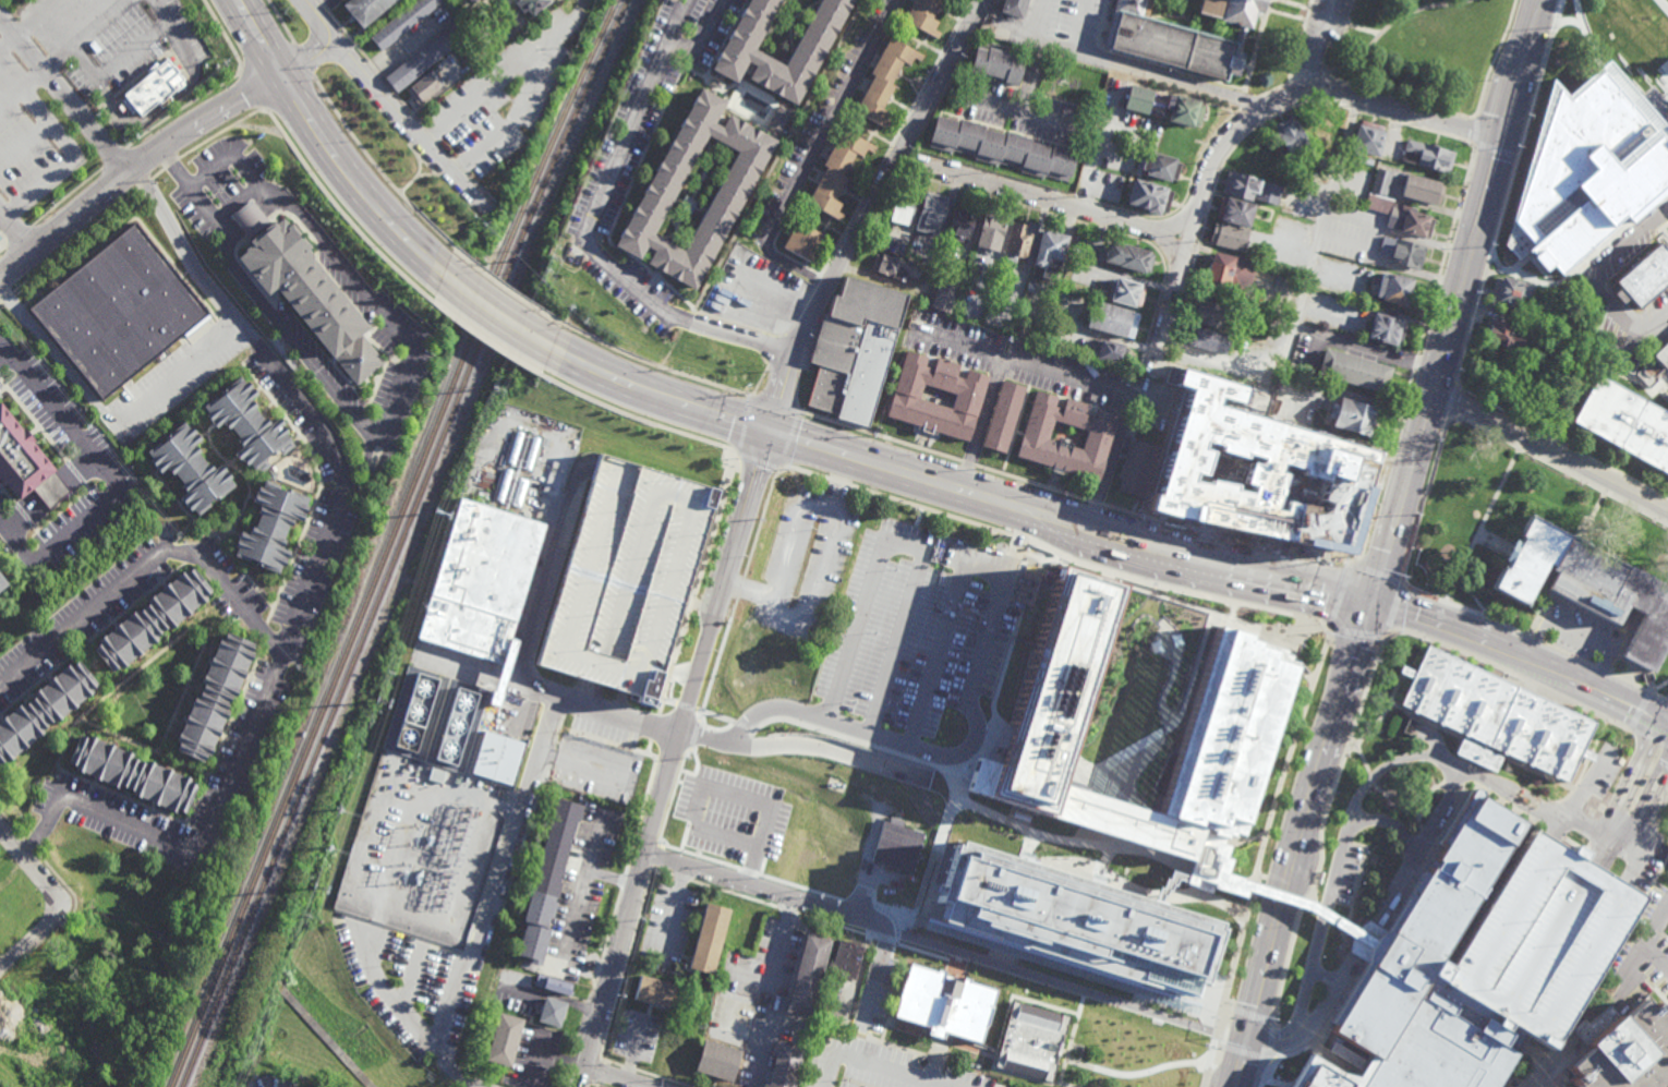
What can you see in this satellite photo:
building: (503, 0)
building: (471, 1)
road: (1095, 3)
road: (1665, 3)
road: (1293, 4)
building: (531, 7)
road: (1183, 8)
road: (592, 9)
building: (1013, 9)
building: (1232, 10)
road: (1316, 10)
building: (364, 11)
road: (1307, 14)
building: (924, 15)
road: (1285, 15)
road: (684, 17)
road: (1035, 20)
road: (280, 22)
building: (404, 22)
road: (1313, 22)
road: (1205, 23)
road: (29, 25)
road: (1077, 26)
road: (1389, 26)
road: (174, 32)
road: (222, 33)
building: (505, 35)
road: (706, 35)
building: (1172, 43)
road: (1256, 46)
road: (1313, 46)
road: (132, 52)
road: (1643, 52)
road: (1612, 53)
road: (67, 55)
building: (425, 55)
building: (473, 55)
building: (739, 56)
road: (1494, 59)
road: (303, 61)
building: (996, 62)
road: (1148, 63)
road: (1131, 69)
road: (88, 74)
road: (1304, 77)
parking lot: (71, 78)
building: (885, 78)
road: (1032, 81)
building: (424, 84)
road: (493, 84)
building: (152, 88)
road: (255, 89)
road: (1273, 89)
road: (64, 90)
parking lot: (508, 96)
road: (1397, 98)
building: (1137, 99)
road: (1241, 101)
road: (1249, 102)
road: (396, 106)
road: (185, 109)
building: (121, 110)
building: (1184, 110)
road: (1356, 110)
road: (156, 112)
road: (1017, 116)
building: (778, 119)
road: (516, 120)
road: (1245, 122)
road: (49, 123)
road: (1419, 129)
road: (1473, 130)
road: (222, 132)
building: (1326, 132)
building: (1292, 137)
road: (895, 138)
traffic signals: (1501, 140)
road: (1095, 143)
building: (1370, 144)
road: (25, 145)
road: (160, 147)
road: (328, 147)
parking lot: (412, 147)
building: (1001, 148)
road: (1495, 152)
building: (1430, 155)
road: (807, 157)
road: (111, 158)
road: (170, 165)
building: (1160, 166)
road: (930, 168)
road: (375, 170)
building: (836, 172)
building: (1593, 173)
road: (157, 174)
road: (1532, 174)
road: (996, 176)
building: (1380, 181)
road: (145, 184)
road: (40, 188)
building: (1252, 189)
building: (1422, 189)
building: (728, 192)
road: (1508, 192)
road: (1486, 193)
building: (1148, 196)
road: (1186, 196)
road: (65, 197)
road: (1084, 198)
road: (1211, 201)
road: (235, 202)
road: (1060, 202)
building: (901, 210)
road: (868, 212)
building: (1235, 212)
building: (931, 213)
road: (343, 214)
building: (1403, 217)
road: (1667, 222)
building: (960, 226)
road: (1095, 227)
road: (1623, 230)
road: (15, 232)
building: (990, 232)
road: (1167, 232)
road: (1399, 232)
road: (21, 233)
road: (4, 234)
building: (0, 235)
building: (1229, 235)
building: (803, 237)
building: (0, 239)
building: (1019, 239)
road: (76, 240)
road: (4, 244)
road: (1666, 244)
road: (590, 246)
road: (1317, 250)
building: (1401, 251)
road: (1666, 251)
building: (1049, 253)
power tower: (549, 257)
building: (1127, 257)
road: (1388, 264)
building: (894, 267)
building: (1228, 273)
building: (1642, 277)
road: (1595, 280)
road: (817, 281)
road: (505, 288)
building: (1398, 290)
building: (1508, 291)
building: (306, 292)
building: (1124, 292)
building: (943, 295)
road: (7, 297)
road: (801, 312)
building: (119, 313)
road: (494, 314)
building: (1210, 314)
building: (1112, 319)
building: (1386, 329)
building: (1501, 333)
building: (1207, 339)
road: (485, 341)
road: (1629, 345)
road: (776, 349)
building: (854, 350)
road: (1366, 350)
building: (1109, 351)
road: (5, 354)
road: (1417, 357)
road: (1509, 357)
road: (58, 358)
road: (1224, 360)
building: (1653, 364)
road: (653, 365)
road: (1037, 369)
building: (1356, 374)
road: (177, 377)
road: (759, 379)
building: (1658, 386)
power tower: (493, 390)
road: (1581, 392)
road: (1353, 396)
road: (1546, 396)
building: (938, 399)
road: (1449, 399)
road: (774, 402)
road: (390, 408)
road: (637, 418)
building: (1357, 419)
building: (1005, 420)
road: (1019, 421)
building: (1624, 422)
road: (742, 423)
road: (981, 423)
building: (246, 425)
traffic signals: (771, 431)
road: (880, 435)
road: (790, 438)
building: (1068, 438)
road: (922, 439)
road: (1560, 442)
road: (1536, 444)
road: (1549, 449)
road: (760, 459)
building: (1252, 461)
road: (1108, 462)
building: (26, 463)
road: (970, 463)
building: (1136, 468)
building: (188, 470)
road: (1557, 470)
road: (805, 473)
building: (271, 475)
road: (1504, 475)
road: (117, 481)
road: (1055, 481)
road: (835, 483)
road: (837, 483)
road: (1034, 483)
road: (956, 487)
road: (1403, 492)
road: (1422, 498)
road: (1096, 504)
road: (1488, 508)
road: (954, 519)
building: (269, 528)
road: (1484, 538)
road: (1226, 539)
railway: (390, 541)
railway: (400, 541)
railway: (412, 541)
road: (904, 543)
road: (831, 551)
road: (704, 558)
road: (1083, 559)
road: (1461, 561)
parking lot: (809, 564)
road: (143, 567)
road: (1375, 573)
road: (959, 578)
building: (630, 580)
parking lot: (630, 580)
building: (2, 584)
building: (476, 587)
road: (741, 587)
building: (1588, 588)
road: (1467, 589)
road: (301, 594)
traffic signals: (1376, 595)
road: (1339, 597)
road: (1213, 601)
road: (1467, 605)
road: (1392, 612)
building: (155, 621)
road: (1256, 632)
road: (1355, 633)
road: (97, 637)
road: (1536, 641)
road: (527, 643)
road: (1523, 650)
road: (1568, 654)
road: (1600, 669)
road: (98, 671)
road: (670, 673)
road: (682, 673)
road: (1506, 676)
road: (1637, 686)
road: (1658, 687)
road: (588, 691)
road: (663, 697)
road: (619, 700)
road: (667, 700)
building: (215, 702)
power tower: (380, 702)
road: (687, 705)
road: (1639, 710)
building: (414, 712)
building: (1496, 713)
building: (44, 714)
road: (1379, 720)
building: (1067, 724)
road: (846, 726)
road: (654, 729)
road: (1647, 738)
road: (607, 742)
road: (1480, 745)
road: (1667, 745)
road: (1667, 747)
road: (648, 749)
building: (1224, 751)
building: (1478, 752)
road: (1358, 756)
road: (672, 758)
building: (498, 760)
road: (668, 762)
building: (596, 768)
road: (1625, 773)
building: (130, 774)
road: (679, 775)
road: (1370, 777)
road: (1637, 778)
road: (1586, 784)
road: (1450, 788)
road: (725, 790)
road: (1461, 794)
road: (1642, 796)
road: (1393, 799)
road: (1422, 804)
road: (1543, 807)
road: (1648, 807)
power tower: (341, 814)
road: (1657, 817)
road: (529, 820)
road: (1387, 821)
road: (1526, 822)
road: (13, 823)
road: (1319, 831)
road: (1423, 837)
road: (1244, 838)
road: (1298, 838)
road: (645, 840)
building: (897, 845)
road: (32, 846)
road: (1625, 846)
power substation: (422, 848)
road: (1438, 849)
road: (1340, 852)
road: (654, 855)
road: (1259, 856)
road: (1593, 860)
road: (589, 862)
road: (32, 866)
road: (640, 866)
road: (929, 870)
road: (1610, 871)
road: (1661, 872)
road: (936, 874)
building: (546, 878)
road: (623, 880)
road: (777, 880)
road: (1627, 881)
road: (62, 884)
power tower: (316, 884)
road: (1169, 885)
road: (763, 889)
road: (1641, 890)
road: (1648, 891)
road: (491, 894)
road: (763, 902)
road: (1385, 905)
road: (1320, 914)
road: (1404, 914)
road: (906, 919)
road: (572, 920)
building: (1078, 921)
building: (709, 937)
building: (1536, 937)
parking lot: (1536, 937)
road: (32, 938)
road: (885, 939)
road: (897, 939)
road: (1381, 939)
road: (1647, 939)
building: (70, 950)
road: (774, 958)
building: (843, 958)
road: (626, 964)
building: (46, 969)
road: (1632, 969)
building: (802, 970)
road: (1072, 970)
road: (377, 973)
road: (1623, 973)
road: (1325, 976)
road: (1049, 982)
building: (1435, 983)
building: (556, 985)
road: (1588, 987)
building: (652, 990)
road: (552, 995)
road: (1655, 998)
road: (404, 1002)
building: (942, 1002)
road: (587, 1009)
building: (549, 1011)
road: (1247, 1015)
building: (5, 1018)
building: (55, 1019)
road: (583, 1019)
road: (595, 1028)
building: (34, 1032)
road: (883, 1034)
traffic signals: (1247, 1038)
road: (1271, 1038)
building: (503, 1039)
road: (854, 1040)
road: (539, 1041)
building: (1030, 1041)
road: (940, 1042)
road: (1271, 1042)
road: (870, 1043)
road: (1568, 1043)
road: (633, 1048)
building: (1622, 1048)
road: (543, 1052)
road: (1242, 1052)
road: (918, 1054)
road: (1345, 1054)
building: (71, 1059)
building: (717, 1060)
road: (833, 1064)
building: (778, 1065)
parking lot: (878, 1066)
road: (1002, 1072)
road: (599, 1073)
road: (644, 1073)
road: (1141, 1074)
road: (1265, 1074)
road: (618, 1076)
road: (1511, 1083)
road: (1665, 1084)
road: (1664, 1085)
road: (596, 1086)
road: (599, 1086)

